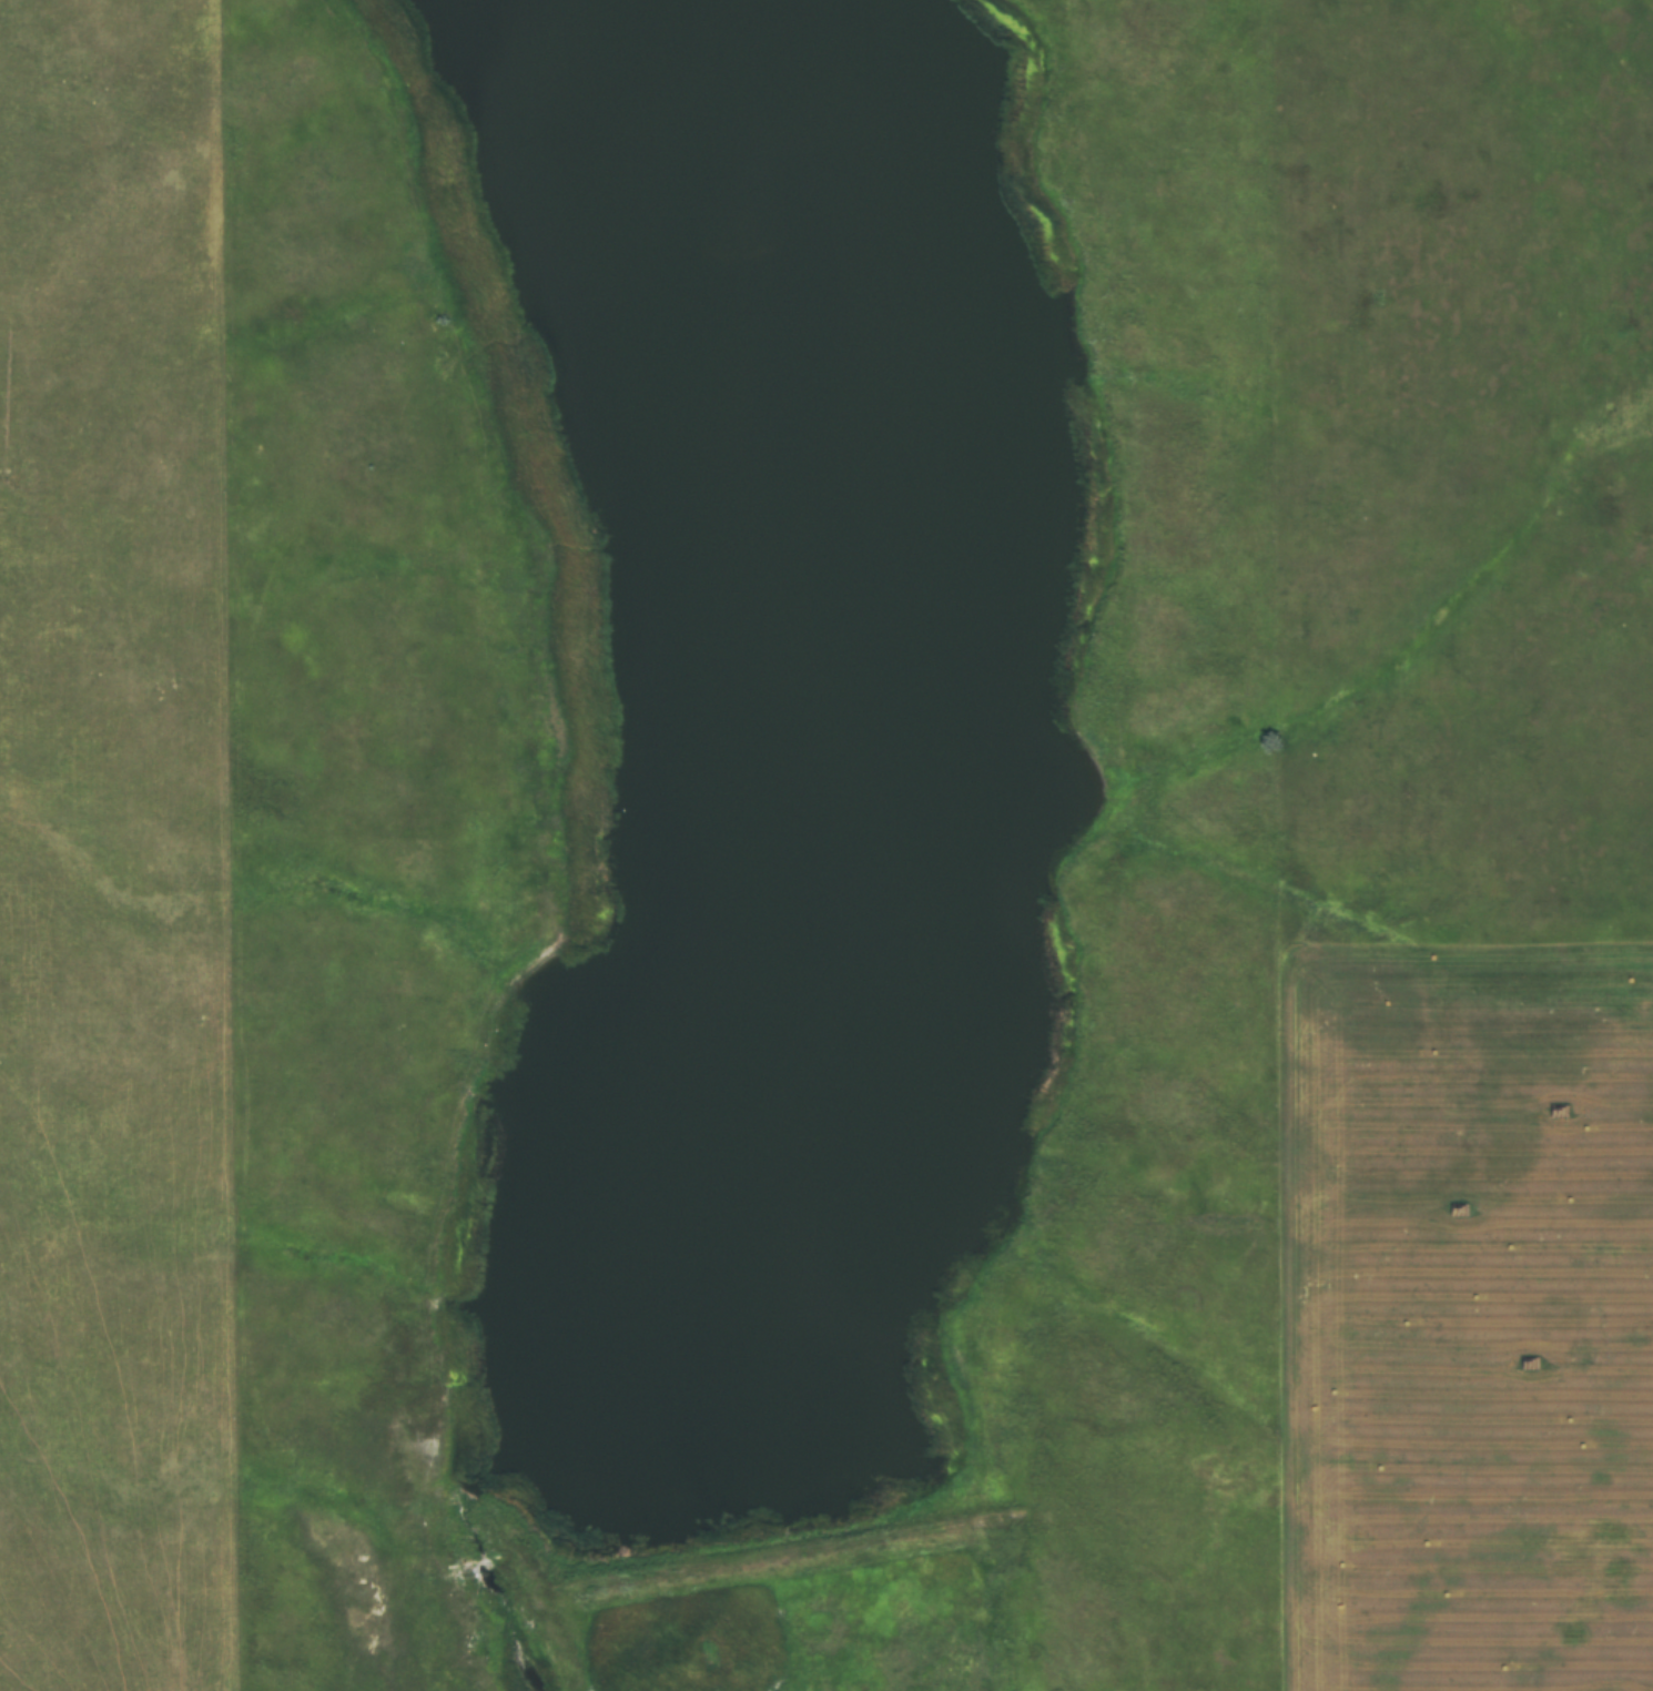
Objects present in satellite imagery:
dam: (751, 1502)

